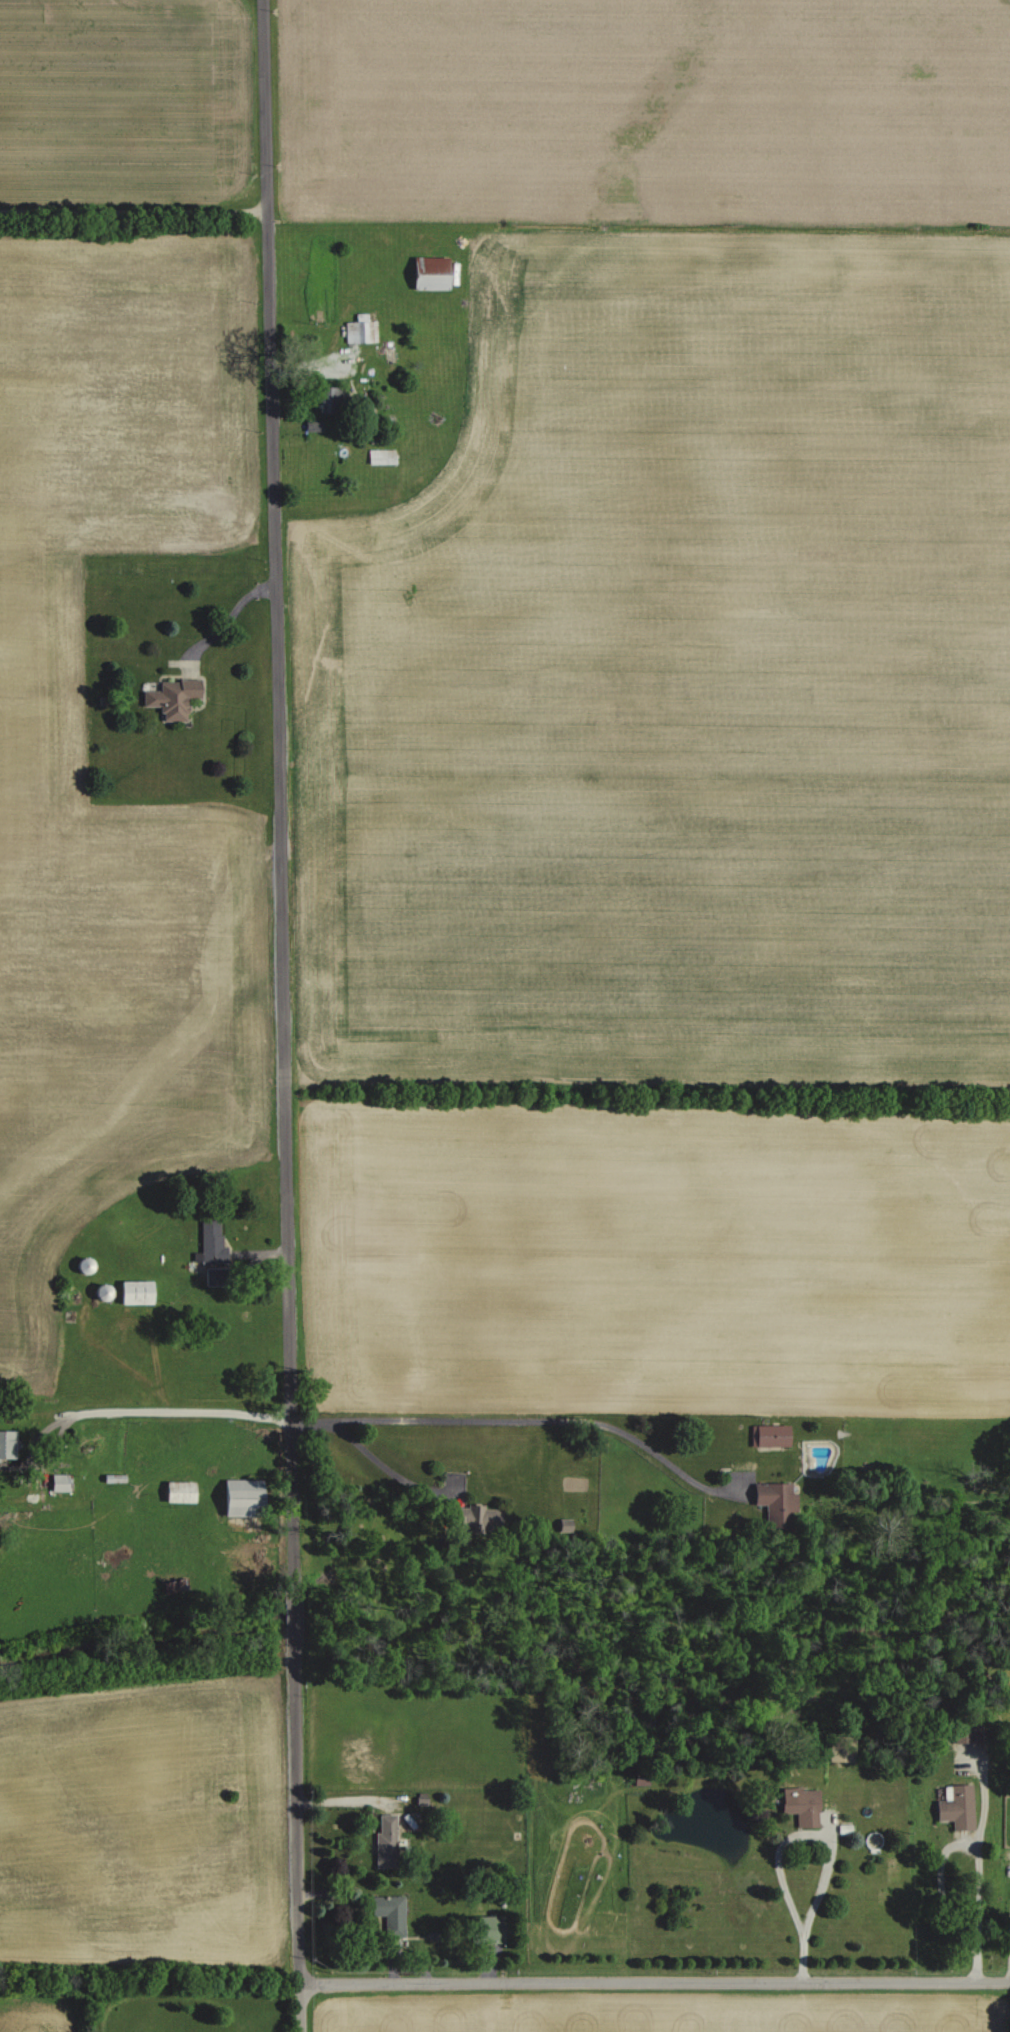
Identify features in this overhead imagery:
road: (134, 211)
building: (430, 273)
building: (361, 329)
building: (324, 399)
road: (230, 617)
building: (172, 698)
road: (277, 801)
building: (210, 1243)
building: (135, 1291)
road: (152, 1409)
road: (520, 1419)
building: (770, 1435)
building: (7, 1443)
road: (382, 1465)
building: (59, 1482)
building: (179, 1491)
building: (241, 1497)
building: (771, 1502)
building: (470, 1519)
building: (563, 1524)
building: (175, 1585)
road: (293, 1614)
building: (967, 1730)
building: (840, 1748)
road: (295, 1804)
building: (801, 1805)
building: (957, 1806)
road: (827, 1838)
building: (385, 1841)
road: (951, 1880)
building: (390, 1915)
building: (489, 1929)
road: (1009, 1968)
road: (654, 1981)
road: (299, 2007)

